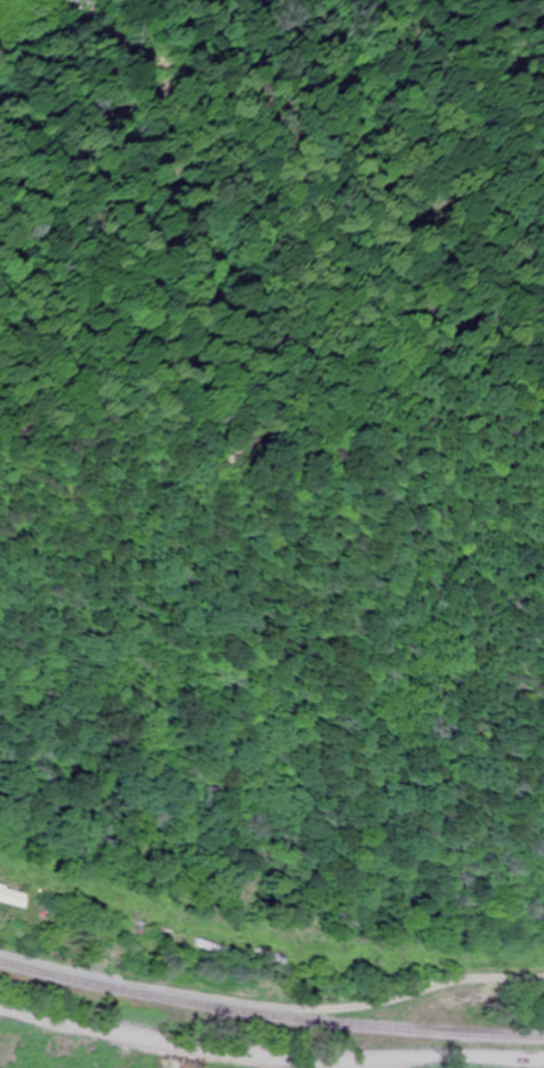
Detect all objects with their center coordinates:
building: (73, 0)
building: (11, 899)
railway: (270, 1015)
road: (270, 1058)

